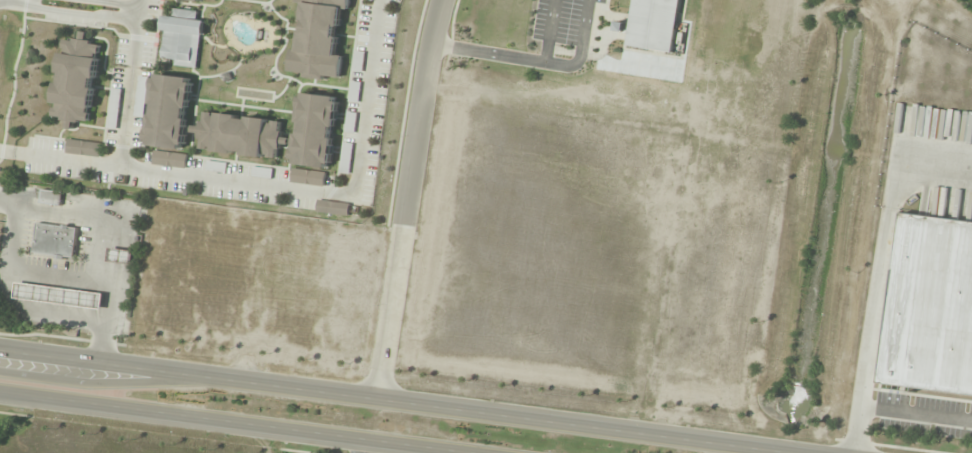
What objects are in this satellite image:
building: (212, 0)
building: (370, 0)
road: (114, 4)
road: (141, 4)
road: (69, 14)
road: (140, 16)
building: (653, 24)
building: (182, 39)
building: (319, 39)
building: (77, 80)
road: (129, 95)
building: (113, 109)
building: (169, 111)
building: (315, 130)
building: (240, 135)
building: (83, 148)
building: (169, 160)
building: (215, 167)
building: (307, 178)
road: (270, 186)
building: (51, 197)
road: (404, 198)
building: (332, 208)
building: (55, 240)
building: (121, 256)
building: (59, 296)
building: (931, 310)
road: (394, 400)
road: (232, 422)

